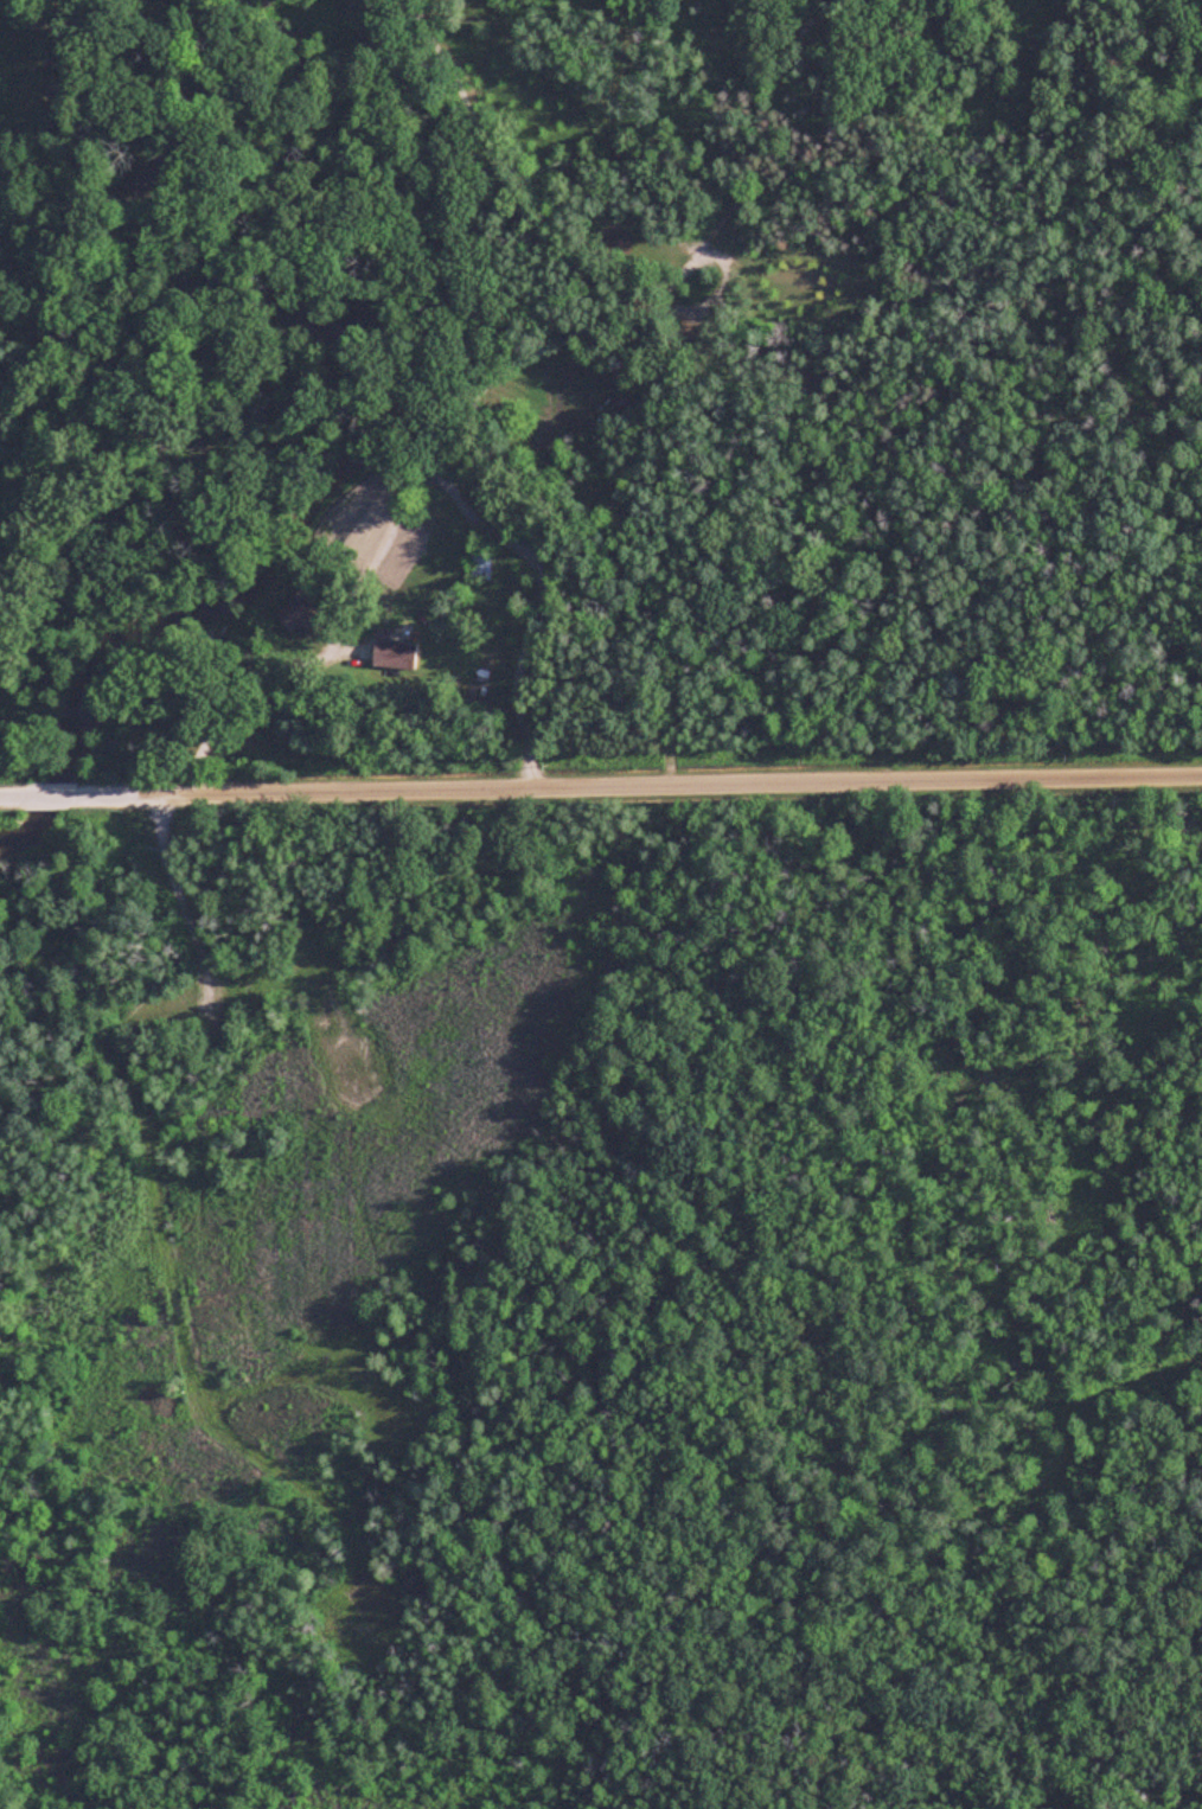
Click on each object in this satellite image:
road: (404, 497)
building: (392, 652)
road: (600, 785)

